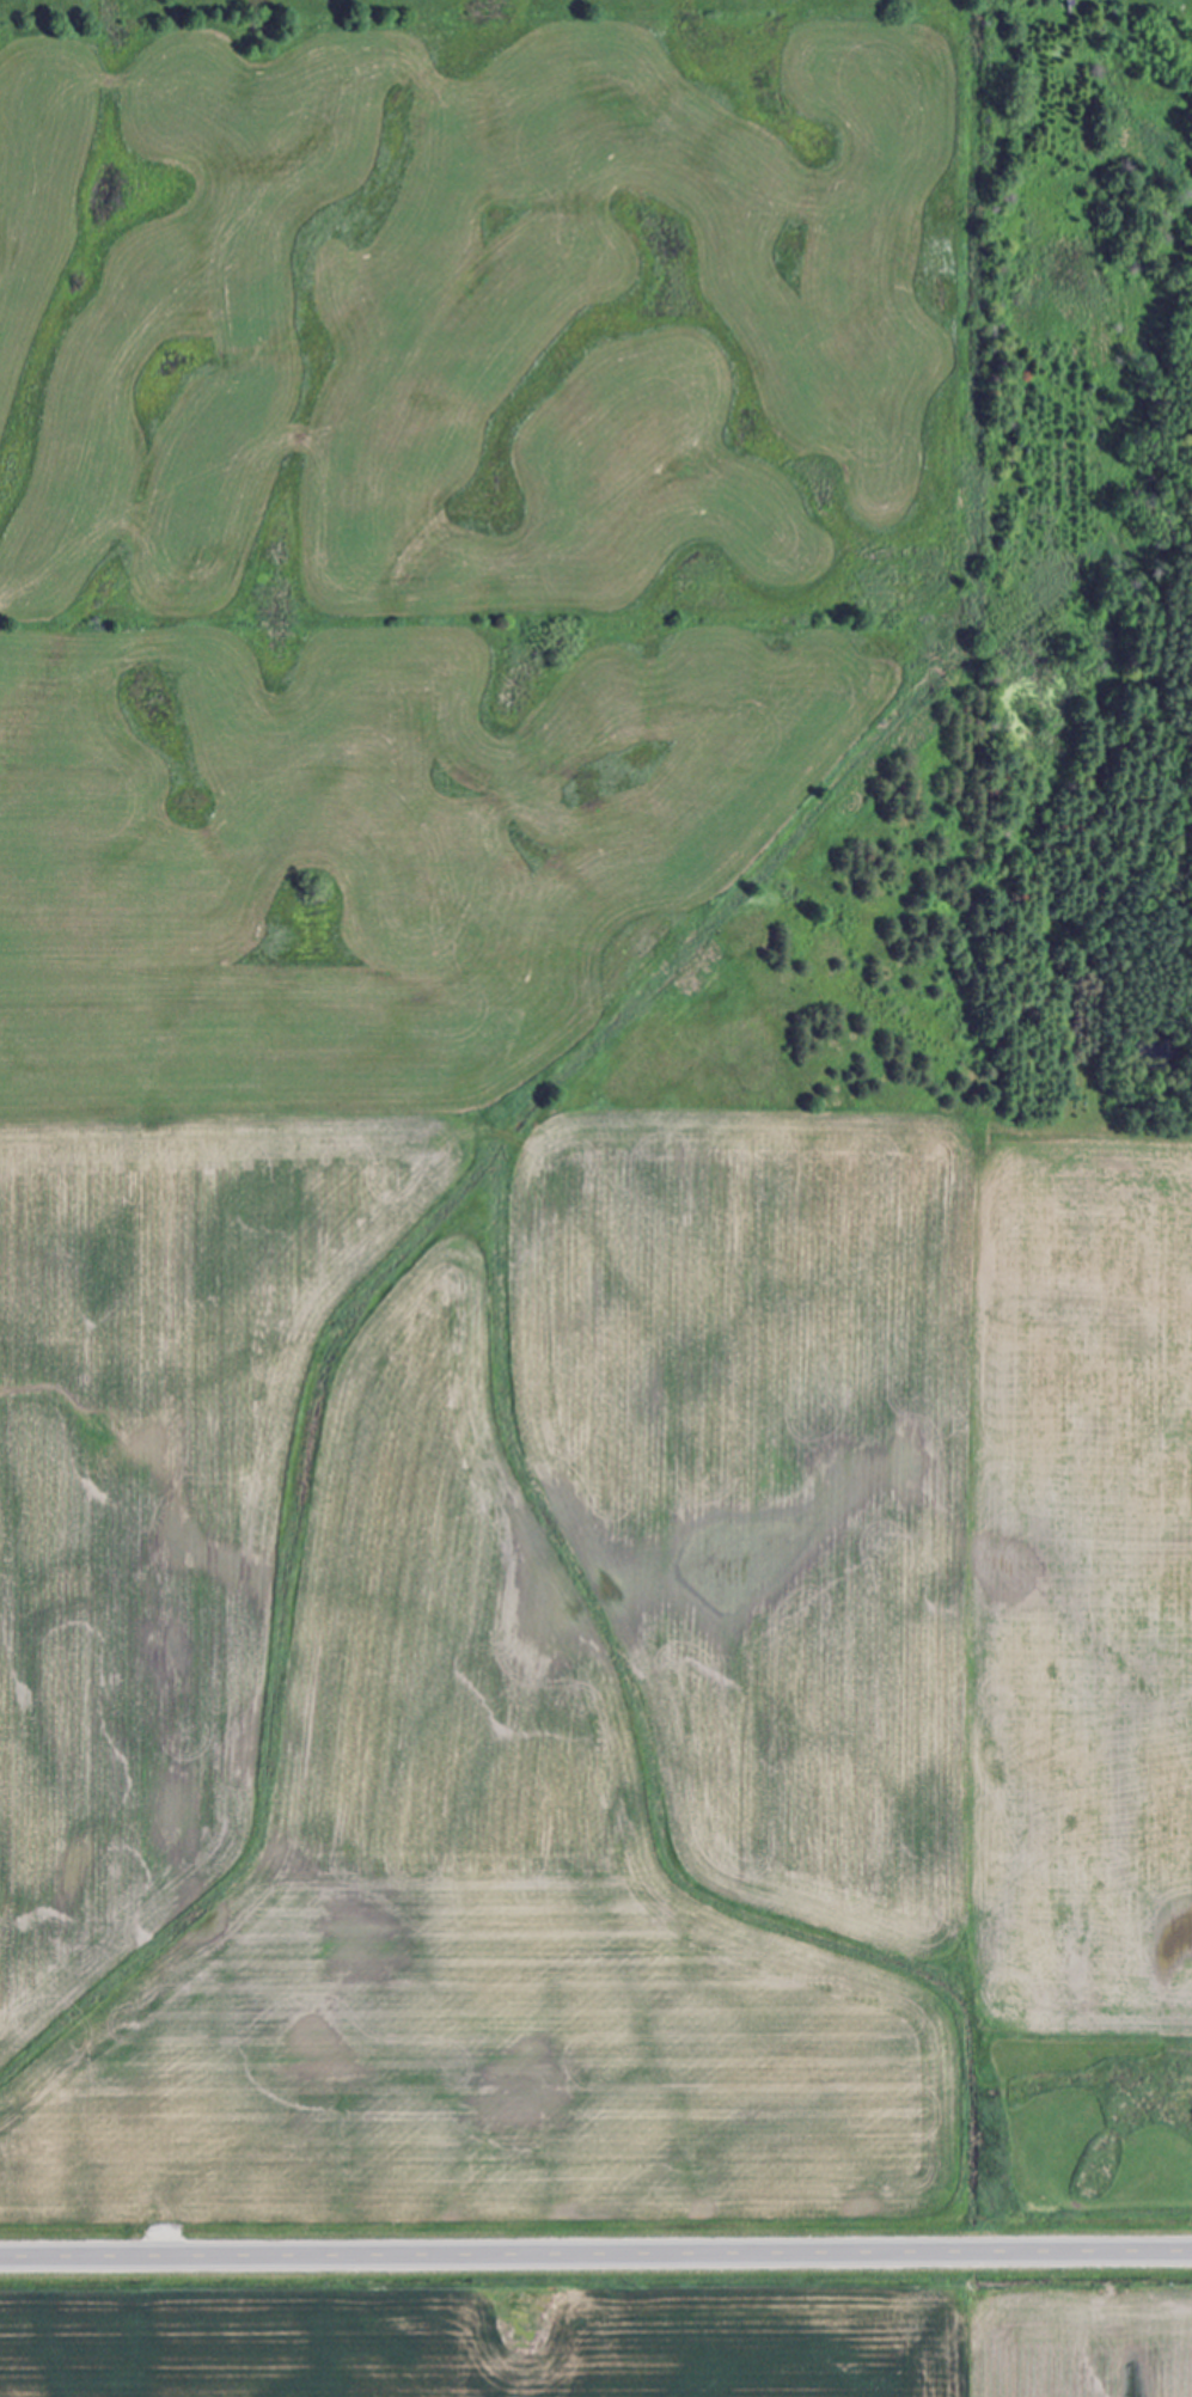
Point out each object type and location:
road: (595, 2251)

